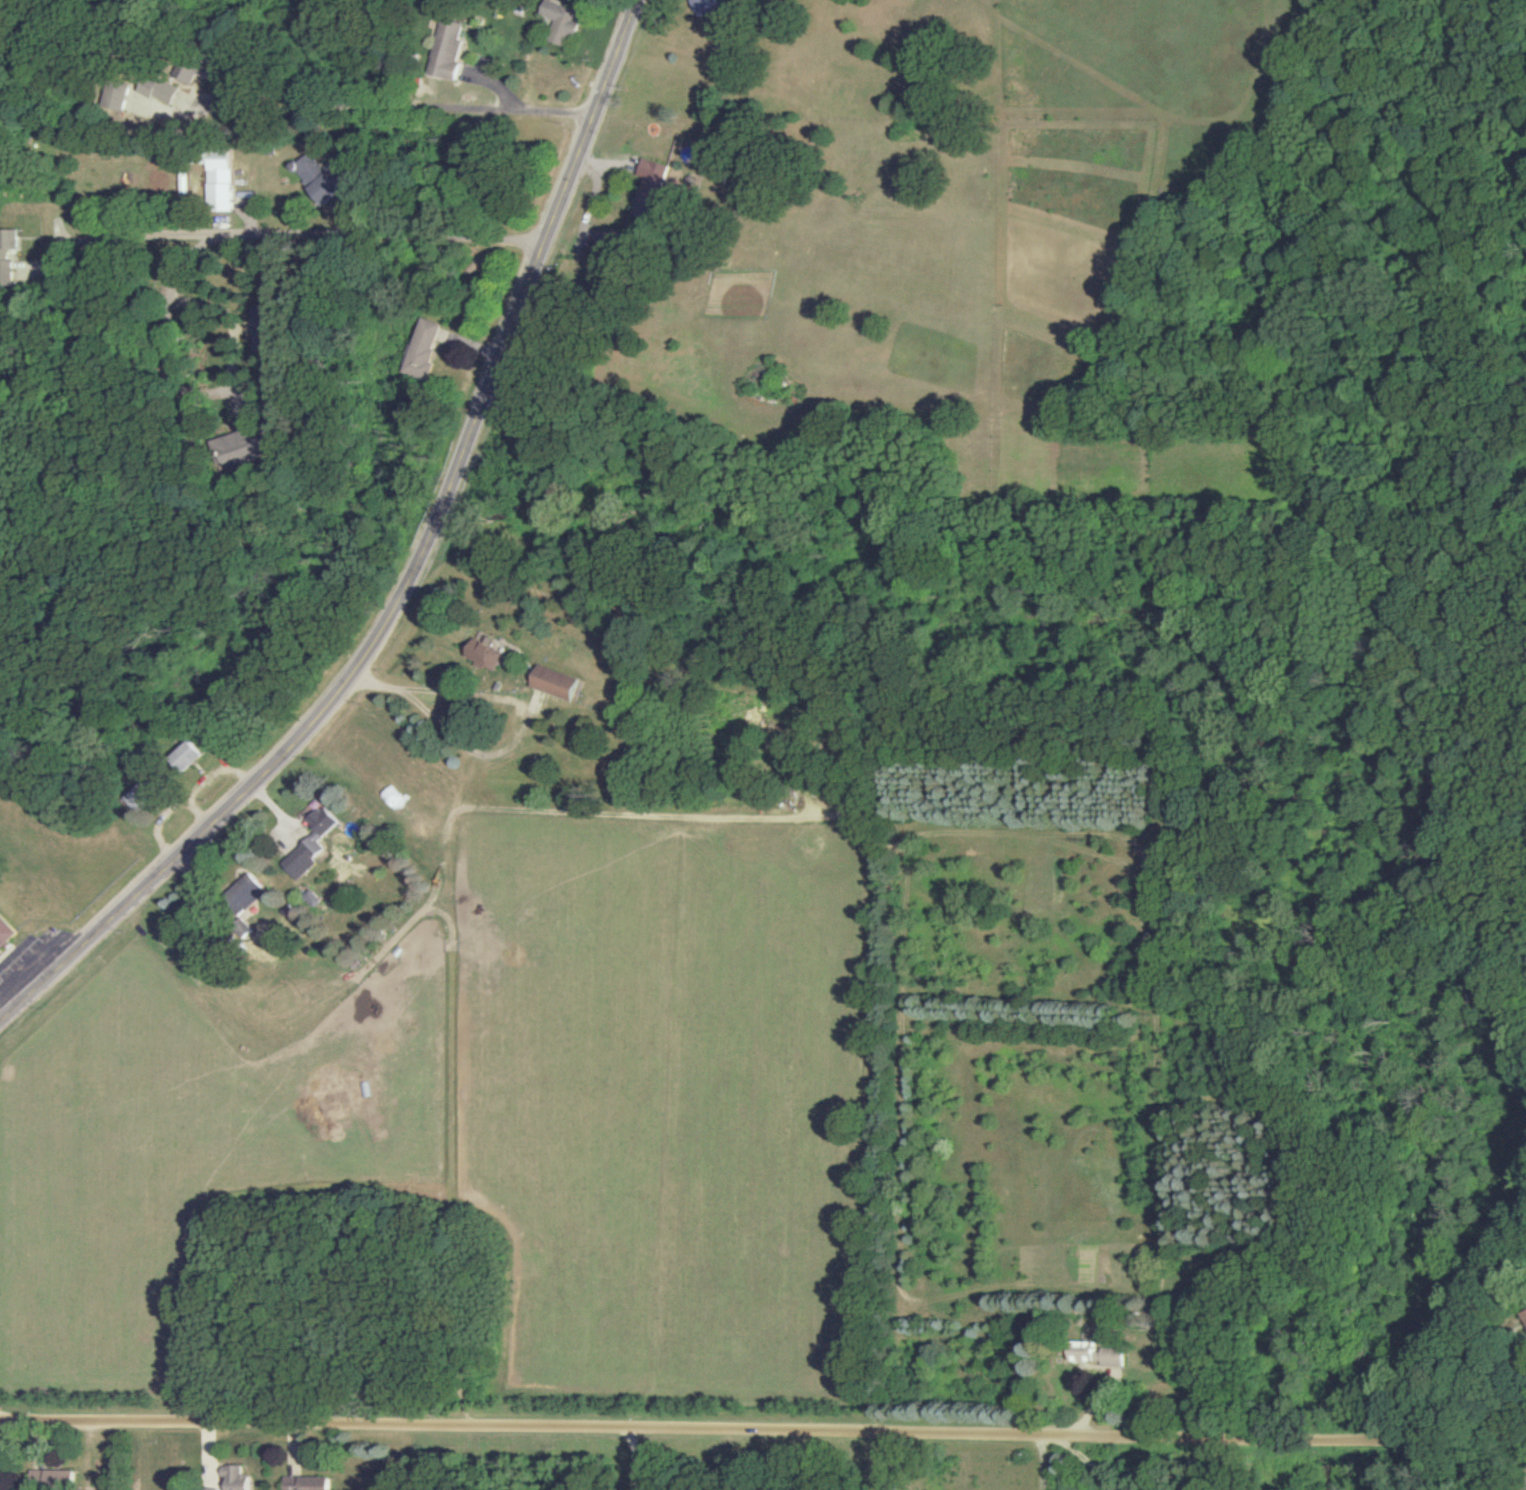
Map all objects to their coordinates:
building: (705, 6)
building: (562, 23)
building: (447, 51)
building: (164, 89)
building: (123, 96)
road: (413, 104)
road: (536, 106)
building: (325, 182)
building: (225, 185)
building: (650, 187)
road: (273, 234)
road: (214, 308)
building: (428, 349)
building: (235, 444)
road: (419, 578)
building: (490, 653)
building: (560, 683)
road: (530, 706)
building: (189, 756)
building: (314, 844)
building: (249, 893)
building: (314, 898)
building: (7, 933)
building: (1096, 1354)
road: (762, 1437)
road: (636, 1462)
building: (52, 1477)
building: (305, 1483)

